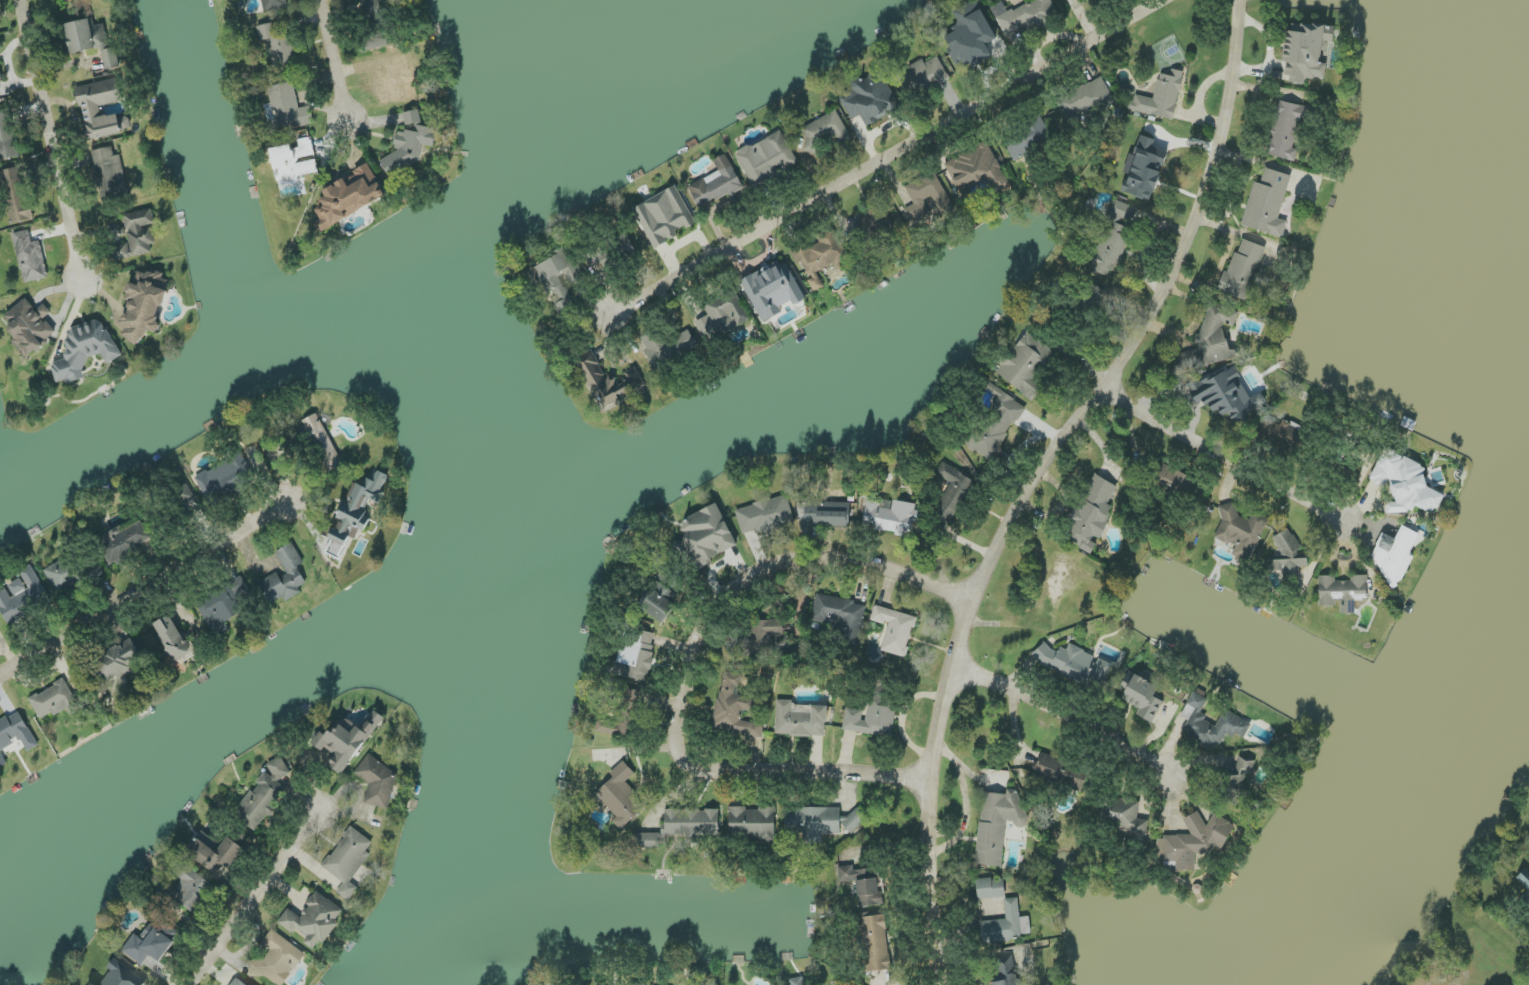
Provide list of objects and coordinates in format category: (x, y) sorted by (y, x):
building: (62, 0)
building: (273, 5)
building: (1025, 16)
building: (970, 35)
building: (85, 36)
building: (277, 46)
building: (1304, 53)
building: (111, 59)
road: (332, 63)
building: (928, 73)
building: (0, 77)
building: (399, 80)
building: (1161, 97)
building: (867, 98)
building: (1085, 99)
building: (286, 107)
building: (91, 109)
building: (824, 131)
building: (1285, 131)
building: (6, 136)
building: (1028, 141)
road: (50, 142)
building: (409, 146)
road: (887, 157)
building: (767, 159)
building: (294, 166)
building: (1147, 166)
building: (976, 169)
building: (110, 174)
building: (717, 184)
building: (16, 195)
building: (350, 197)
building: (926, 198)
building: (1267, 204)
building: (1123, 212)
building: (664, 216)
building: (874, 220)
building: (137, 235)
building: (624, 247)
building: (1111, 249)
building: (30, 257)
building: (818, 258)
building: (1243, 269)
building: (555, 280)
building: (772, 290)
building: (1094, 294)
building: (144, 305)
building: (722, 316)
building: (29, 327)
building: (1212, 339)
building: (668, 347)
building: (85, 351)
building: (1026, 363)
building: (609, 381)
building: (1226, 395)
building: (996, 424)
building: (1279, 434)
building: (323, 441)
road: (1219, 457)
road: (1035, 477)
building: (224, 480)
building: (1179, 482)
building: (1405, 484)
building: (953, 493)
building: (824, 513)
building: (1091, 513)
building: (355, 514)
building: (765, 515)
building: (889, 517)
building: (1240, 530)
building: (705, 538)
building: (123, 541)
building: (1395, 555)
building: (1287, 556)
building: (72, 574)
building: (286, 576)
road: (142, 589)
building: (1342, 592)
building: (26, 594)
building: (657, 604)
building: (225, 606)
building: (840, 618)
building: (895, 630)
building: (762, 635)
building: (173, 639)
building: (634, 656)
building: (120, 661)
building: (1074, 665)
road: (687, 668)
building: (1144, 697)
building: (54, 700)
building: (735, 708)
road: (1061, 713)
building: (871, 719)
building: (800, 721)
building: (1211, 724)
building: (613, 727)
building: (14, 735)
building: (348, 739)
building: (1238, 781)
building: (378, 782)
building: (264, 795)
building: (621, 797)
building: (1125, 819)
building: (820, 822)
building: (753, 823)
building: (997, 824)
building: (682, 827)
building: (1194, 841)
building: (214, 852)
building: (348, 860)
building: (1525, 884)
building: (861, 885)
building: (991, 888)
building: (187, 889)
road: (251, 897)
building: (313, 920)
building: (1003, 925)
building: (149, 944)
building: (873, 944)
building: (278, 960)
building: (1005, 972)
building: (122, 976)
building: (797, 981)
building: (237, 982)
building: (837, 983)
building: (93, 984)
building: (639, 984)

